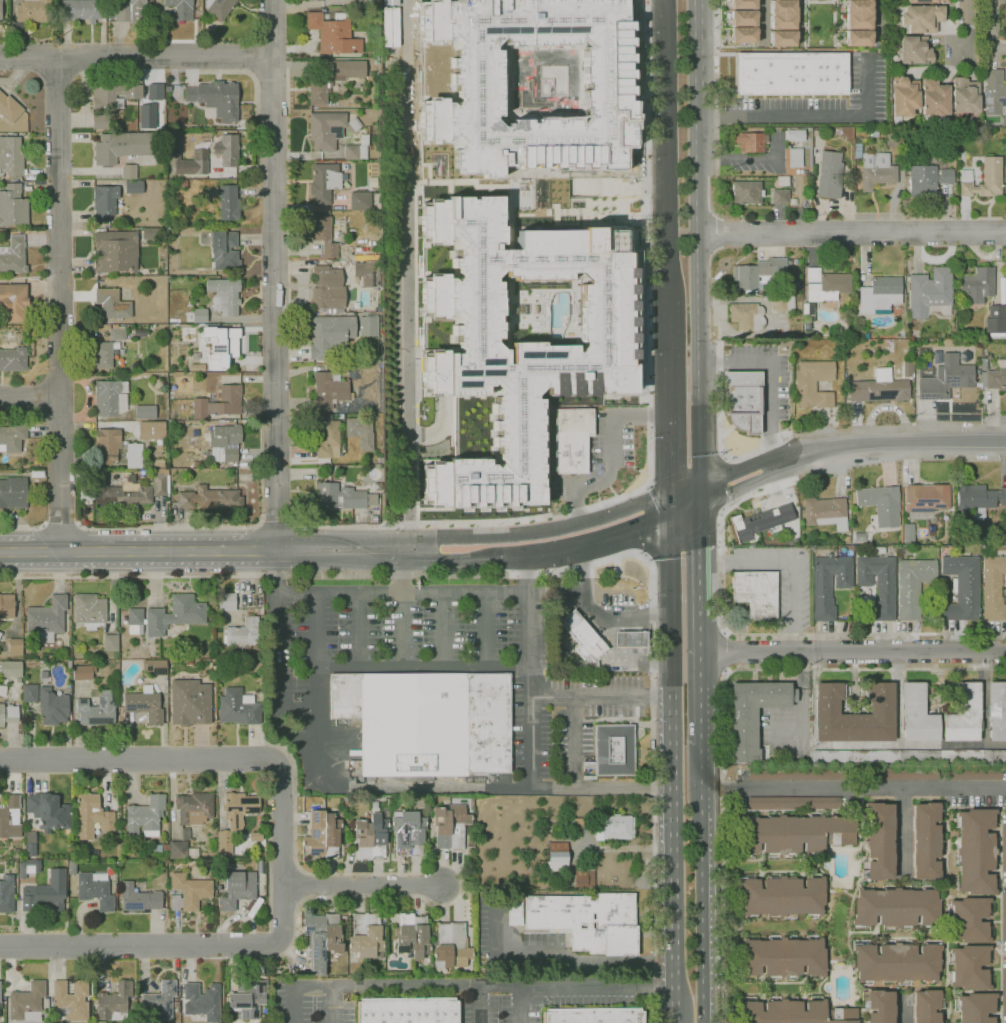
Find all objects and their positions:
building: (315, 0)
building: (363, 1)
building: (925, 1)
building: (389, 2)
building: (219, 7)
building: (181, 8)
building: (0, 10)
building: (80, 10)
building: (130, 10)
building: (34, 11)
building: (921, 18)
building: (743, 22)
road: (762, 22)
road: (881, 22)
road: (965, 23)
building: (783, 24)
building: (858, 24)
building: (389, 27)
building: (333, 33)
road: (989, 33)
road: (698, 47)
building: (915, 49)
road: (136, 56)
road: (302, 67)
road: (191, 72)
building: (791, 74)
building: (334, 79)
road: (298, 89)
building: (475, 89)
building: (154, 91)
building: (994, 93)
road: (288, 95)
building: (964, 95)
building: (114, 96)
building: (904, 96)
building: (216, 98)
building: (934, 98)
building: (9, 108)
road: (715, 113)
road: (811, 115)
building: (146, 116)
building: (101, 123)
building: (328, 129)
building: (874, 133)
building: (794, 134)
building: (895, 139)
building: (750, 141)
building: (123, 146)
building: (357, 149)
building: (227, 150)
building: (857, 150)
road: (665, 154)
building: (11, 156)
road: (738, 157)
building: (793, 158)
building: (193, 162)
building: (344, 167)
building: (876, 170)
building: (128, 171)
building: (829, 175)
building: (927, 179)
building: (983, 179)
building: (783, 180)
building: (324, 182)
building: (345, 185)
building: (133, 187)
building: (747, 192)
building: (780, 197)
building: (360, 201)
road: (710, 201)
building: (792, 201)
building: (105, 202)
building: (229, 202)
building: (13, 206)
building: (376, 206)
road: (851, 232)
building: (147, 233)
building: (324, 235)
building: (115, 251)
building: (224, 251)
building: (13, 256)
building: (370, 274)
building: (760, 274)
road: (274, 276)
road: (406, 276)
building: (795, 284)
building: (978, 284)
building: (826, 285)
building: (328, 288)
building: (930, 291)
building: (224, 295)
road: (698, 295)
building: (880, 295)
building: (1003, 296)
road: (731, 300)
building: (13, 302)
building: (782, 303)
road: (59, 304)
building: (112, 304)
building: (805, 310)
building: (197, 316)
building: (747, 316)
building: (996, 322)
building: (368, 325)
building: (807, 326)
building: (117, 334)
building: (807, 334)
building: (866, 334)
building: (331, 337)
building: (516, 342)
building: (220, 344)
building: (889, 347)
building: (104, 354)
building: (197, 357)
building: (989, 357)
building: (13, 359)
road: (667, 362)
building: (984, 363)
building: (363, 366)
building: (919, 366)
building: (197, 367)
building: (907, 369)
road: (771, 377)
building: (995, 377)
building: (948, 379)
building: (814, 383)
building: (878, 388)
building: (328, 390)
building: (110, 397)
road: (720, 397)
road: (30, 399)
building: (743, 400)
building: (219, 403)
building: (145, 412)
road: (651, 420)
building: (151, 430)
building: (359, 431)
building: (12, 437)
building: (327, 439)
building: (572, 439)
building: (160, 442)
road: (880, 442)
building: (224, 443)
building: (107, 445)
road: (731, 447)
building: (134, 456)
building: (159, 463)
road: (668, 463)
building: (197, 464)
road: (611, 465)
road: (688, 472)
building: (37, 474)
road: (637, 482)
road: (723, 483)
road: (730, 483)
road: (773, 484)
building: (160, 485)
road: (645, 485)
building: (120, 492)
building: (13, 493)
building: (338, 497)
traffic signals: (702, 497)
building: (979, 497)
building: (927, 498)
building: (209, 499)
road: (685, 504)
building: (881, 504)
road: (724, 509)
traffic signals: (669, 512)
building: (825, 512)
road: (648, 520)
road: (60, 522)
road: (278, 522)
building: (760, 522)
road: (720, 524)
road: (167, 528)
road: (626, 528)
road: (702, 528)
road: (23, 529)
building: (908, 534)
building: (862, 536)
building: (847, 538)
road: (681, 539)
road: (541, 548)
building: (877, 550)
road: (139, 552)
road: (332, 552)
road: (442, 552)
road: (605, 564)
road: (641, 564)
road: (792, 565)
road: (402, 573)
road: (543, 576)
road: (635, 577)
building: (828, 584)
building: (878, 584)
building: (913, 585)
road: (703, 587)
building: (993, 587)
building: (962, 588)
road: (402, 593)
building: (756, 593)
building: (226, 602)
building: (6, 606)
building: (89, 610)
building: (175, 615)
road: (604, 615)
building: (46, 619)
building: (135, 621)
building: (144, 622)
road: (402, 630)
road: (444, 630)
road: (486, 630)
road: (359, 631)
building: (244, 632)
building: (0, 634)
road: (778, 634)
building: (583, 637)
building: (631, 639)
building: (110, 643)
building: (15, 647)
road: (855, 651)
road: (722, 652)
building: (154, 666)
road: (422, 668)
building: (10, 669)
road: (529, 670)
building: (83, 672)
road: (316, 678)
road: (704, 678)
building: (2, 691)
building: (30, 693)
road: (601, 696)
building: (190, 702)
building: (144, 704)
building: (52, 707)
building: (239, 707)
road: (725, 708)
building: (97, 710)
building: (996, 711)
building: (8, 714)
building: (753, 714)
building: (854, 714)
building: (917, 714)
building: (964, 714)
building: (427, 722)
road: (575, 742)
building: (613, 751)
building: (908, 755)
road: (200, 757)
road: (672, 766)
building: (794, 774)
building: (902, 774)
building: (972, 774)
road: (379, 785)
road: (855, 787)
building: (794, 803)
building: (375, 804)
building: (194, 808)
building: (239, 808)
building: (48, 812)
building: (91, 816)
building: (10, 817)
building: (145, 817)
building: (572, 823)
building: (450, 825)
building: (613, 827)
road: (902, 827)
building: (409, 833)
building: (796, 833)
building: (185, 834)
building: (322, 834)
building: (371, 835)
building: (31, 837)
building: (255, 837)
building: (925, 841)
building: (879, 842)
building: (224, 843)
building: (165, 847)
building: (1004, 847)
building: (30, 849)
building: (156, 849)
building: (178, 849)
building: (975, 851)
building: (14, 853)
building: (193, 853)
building: (554, 858)
road: (269, 860)
building: (645, 863)
building: (72, 867)
building: (260, 867)
building: (22, 868)
building: (161, 874)
road: (318, 874)
building: (582, 879)
road: (704, 883)
road: (361, 885)
building: (237, 889)
building: (95, 890)
building: (188, 892)
building: (6, 894)
building: (44, 894)
building: (782, 896)
building: (138, 899)
building: (896, 907)
road: (282, 914)
building: (1003, 916)
building: (970, 919)
building: (588, 921)
building: (321, 935)
building: (366, 935)
building: (411, 937)
building: (452, 945)
road: (139, 947)
road: (560, 956)
building: (783, 957)
building: (896, 962)
building: (969, 967)
building: (287, 974)
road: (410, 985)
road: (295, 986)
road: (599, 989)
building: (1004, 991)
building: (0, 992)
building: (247, 998)
building: (71, 1000)
building: (161, 1000)
parking lot: (314, 1000)
building: (202, 1001)
building: (114, 1002)
building: (27, 1003)
road: (480, 1003)
building: (175, 1004)
road: (521, 1006)
building: (880, 1006)
building: (926, 1006)
building: (976, 1007)
building: (407, 1010)
parking lot: (500, 1011)
road: (902, 1011)
building: (795, 1012)
building: (593, 1015)
building: (100, 1022)
road: (677, 1022)

